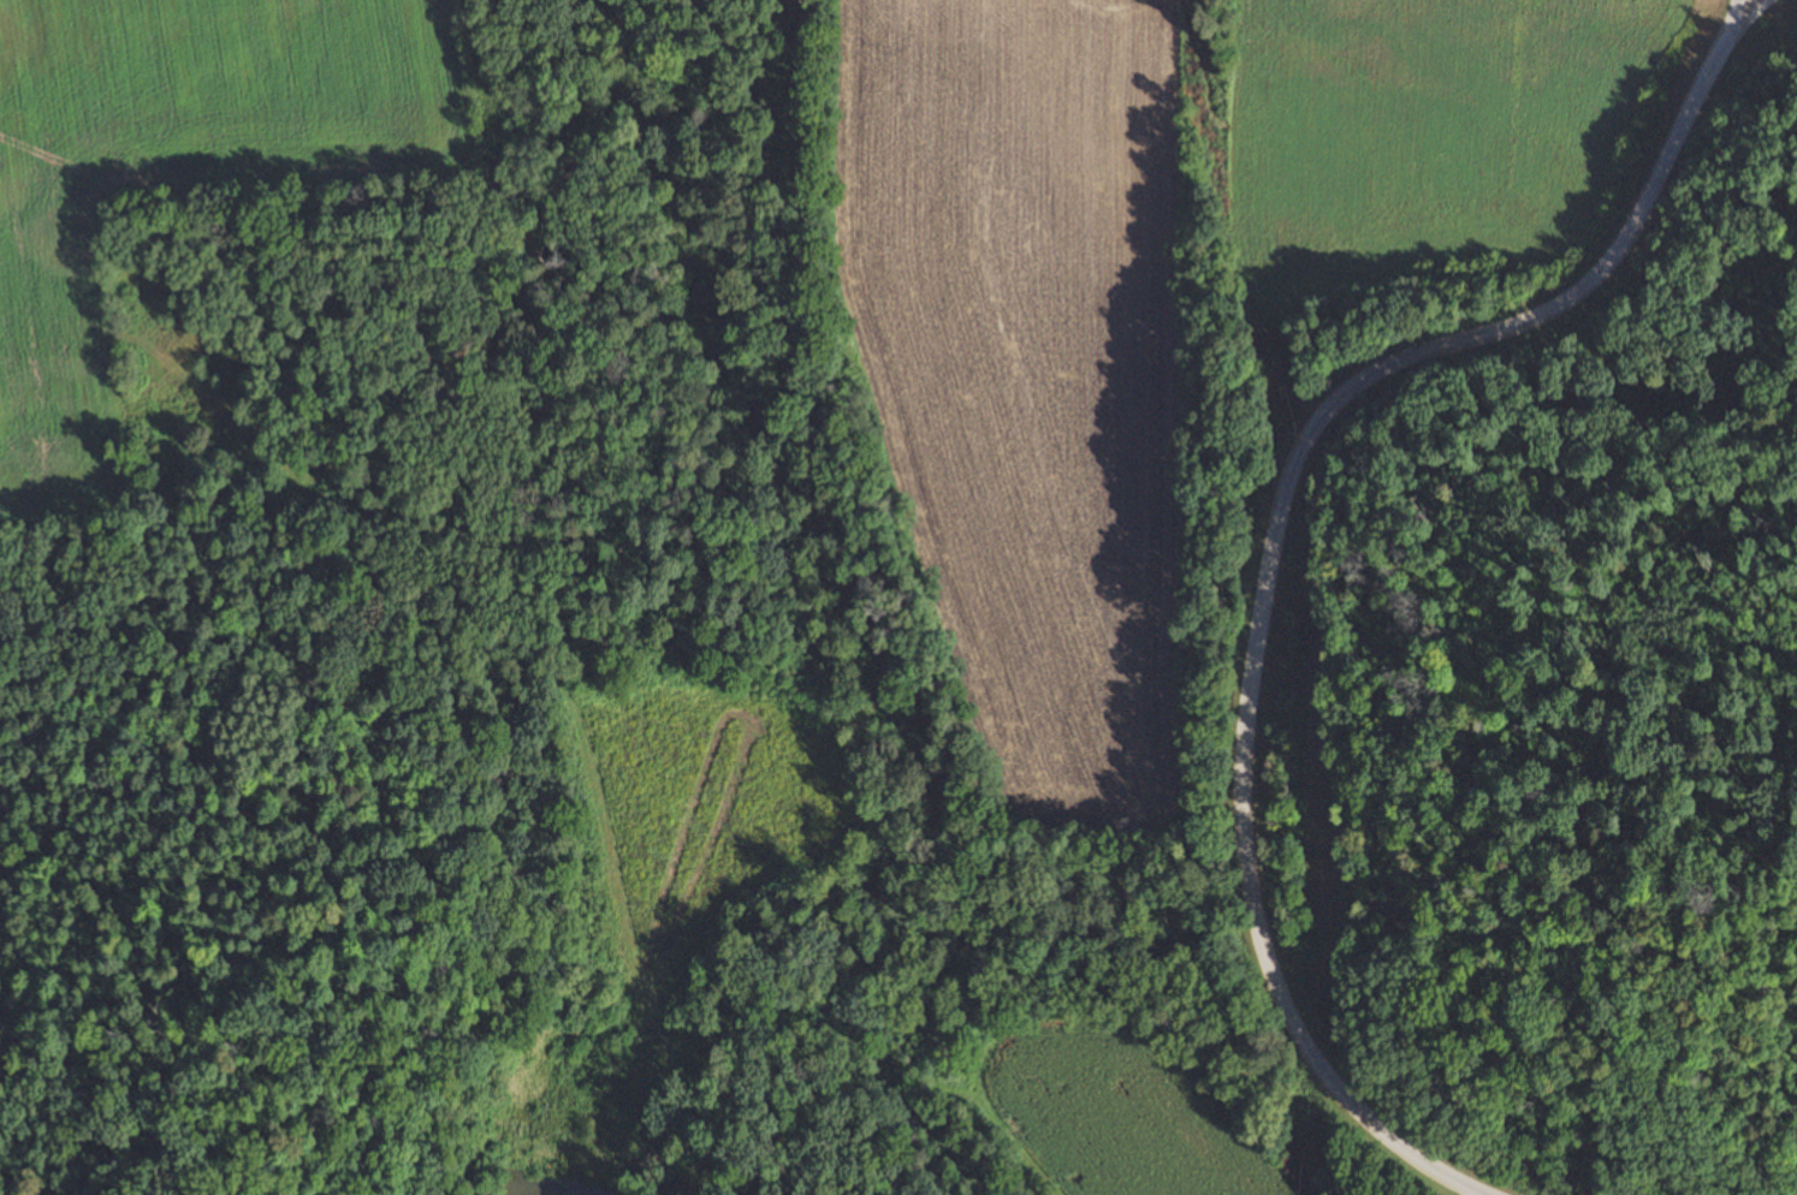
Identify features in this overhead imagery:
road: (1271, 497)

